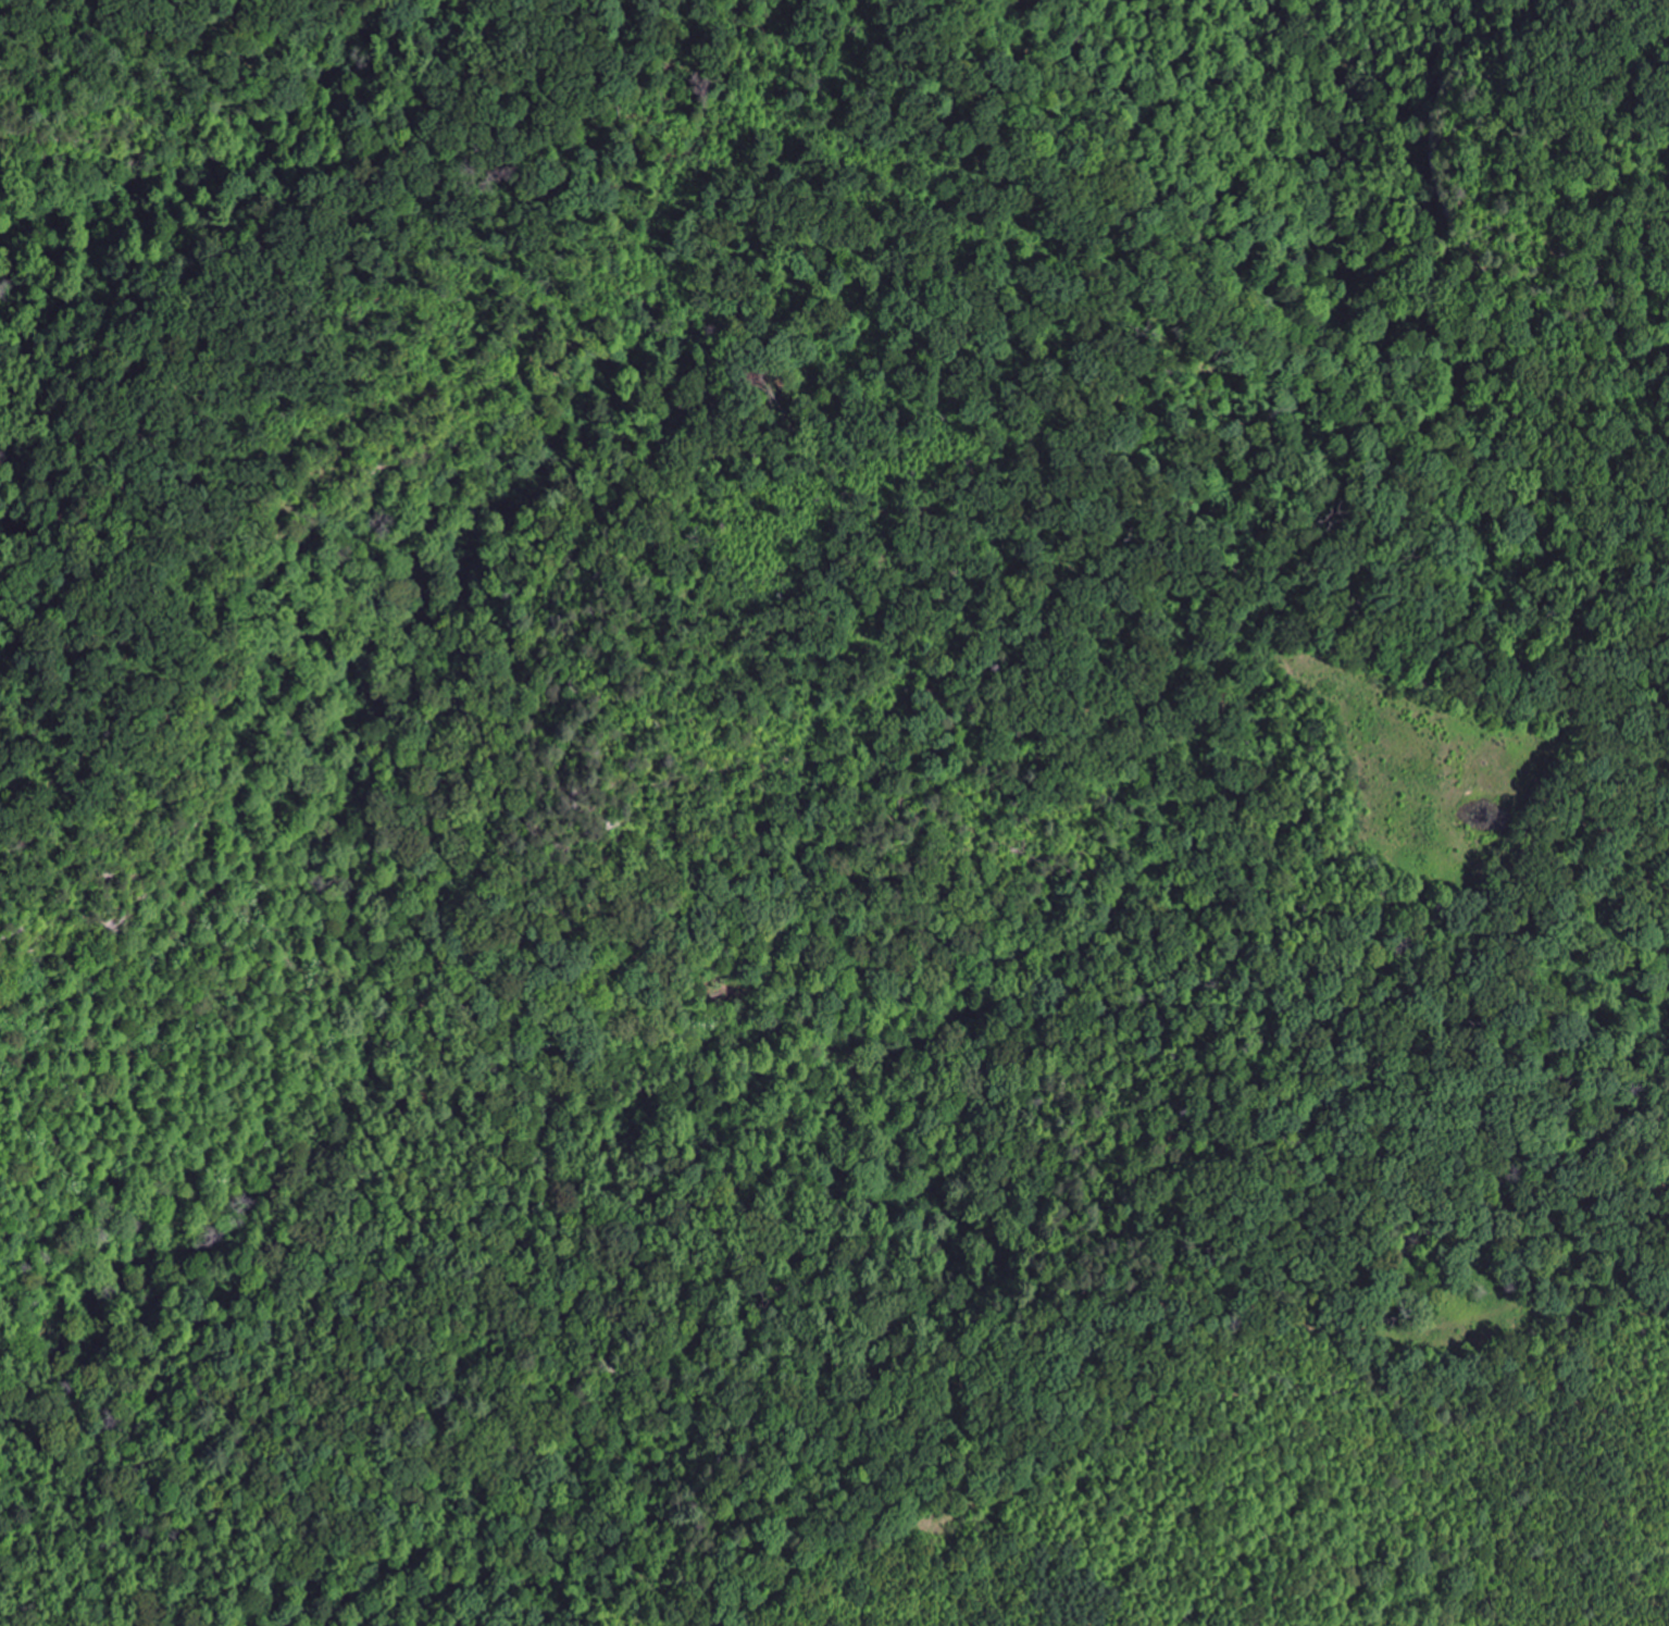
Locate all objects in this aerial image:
road: (1548, 805)
road: (1594, 998)
road: (1468, 1197)
road: (1116, 1410)

